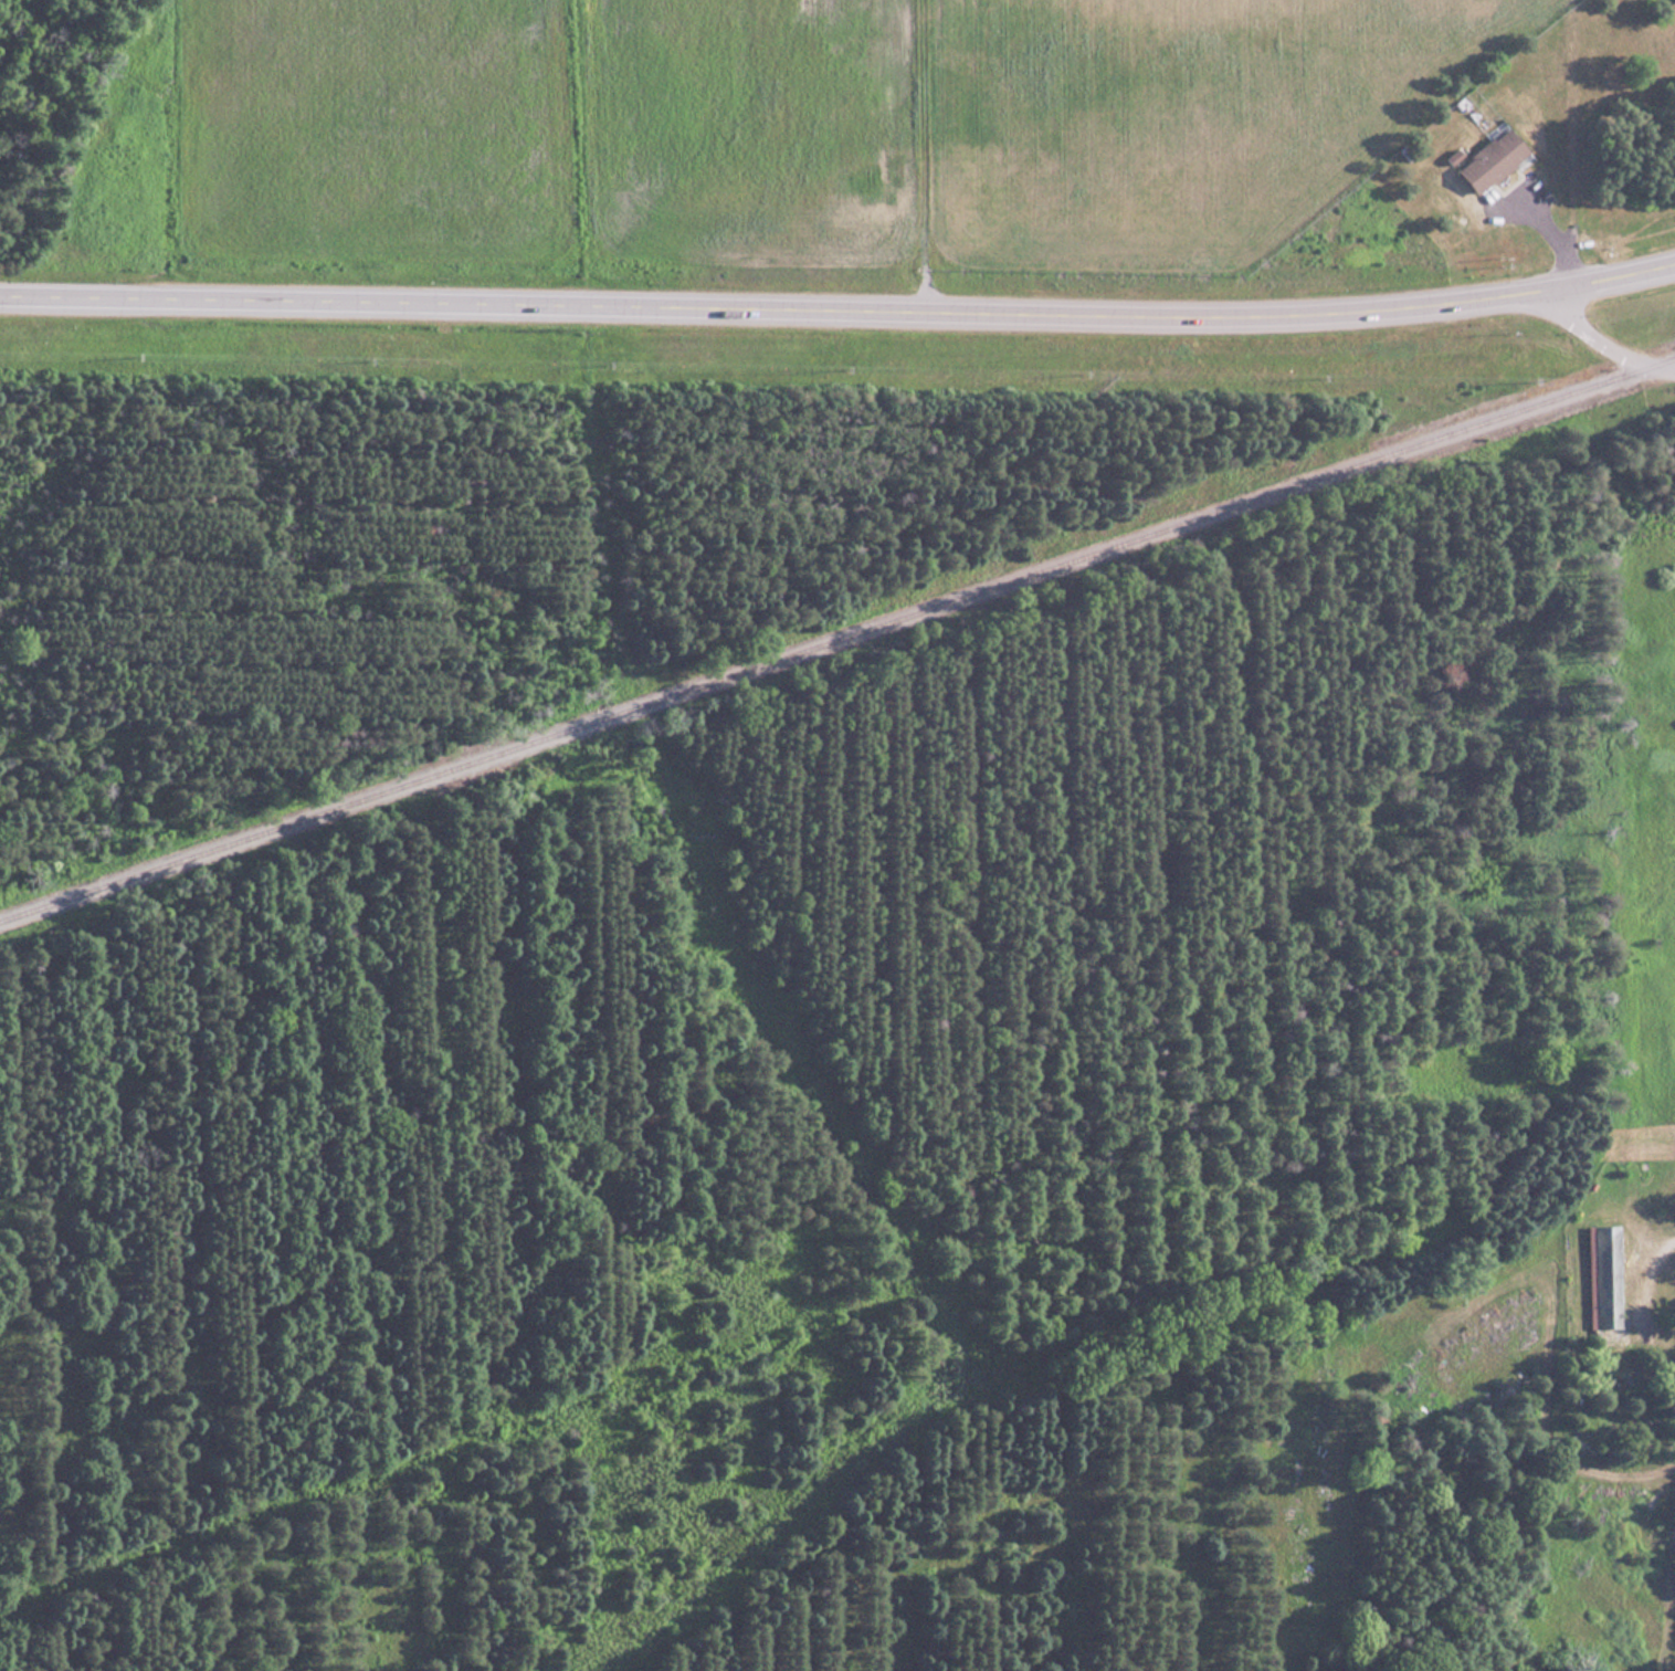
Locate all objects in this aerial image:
road: (920, 155)
building: (1486, 160)
road: (1549, 231)
road: (839, 308)
road: (1601, 341)
railway: (835, 635)
road: (1663, 1240)
building: (1602, 1276)

